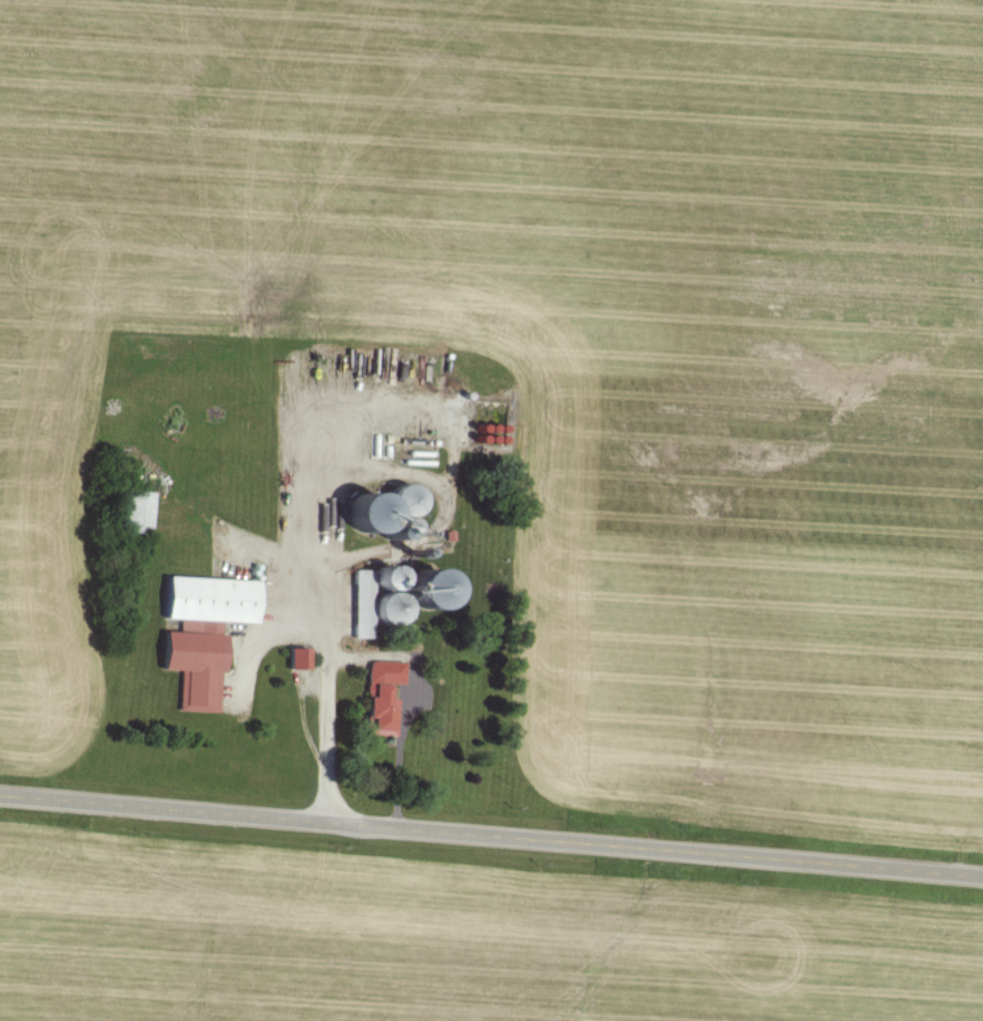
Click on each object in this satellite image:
road: (323, 620)
road: (491, 839)

